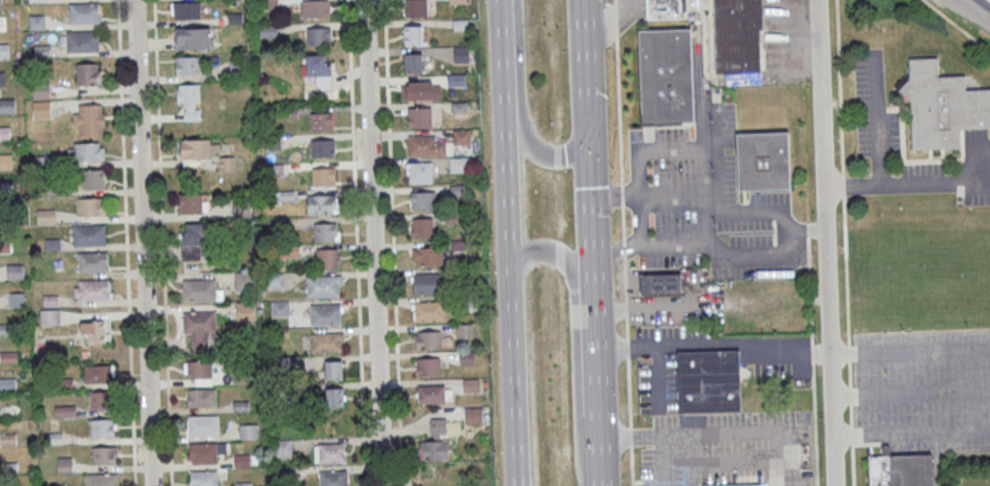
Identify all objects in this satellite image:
road: (989, 0)
building: (0, 1)
building: (36, 1)
building: (458, 1)
building: (269, 4)
building: (315, 8)
building: (415, 8)
building: (662, 8)
building: (189, 11)
road: (974, 11)
building: (84, 13)
building: (36, 22)
building: (2, 23)
road: (957, 25)
building: (413, 34)
building: (737, 35)
building: (318, 36)
building: (193, 38)
building: (81, 41)
building: (461, 54)
road: (587, 60)
building: (414, 62)
building: (190, 65)
building: (237, 68)
building: (320, 70)
building: (87, 74)
building: (665, 75)
building: (1, 78)
building: (456, 80)
building: (40, 90)
building: (417, 90)
building: (189, 100)
building: (7, 106)
building: (941, 106)
building: (41, 110)
road: (520, 113)
building: (420, 117)
parking lot: (877, 119)
building: (88, 120)
traffic signals: (589, 120)
building: (321, 121)
road: (503, 130)
building: (461, 137)
building: (426, 145)
building: (322, 147)
building: (198, 148)
building: (85, 151)
building: (763, 160)
building: (458, 164)
building: (420, 172)
building: (323, 176)
building: (93, 179)
building: (284, 196)
building: (423, 200)
building: (192, 203)
building: (322, 204)
building: (89, 206)
building: (242, 208)
building: (45, 216)
building: (424, 227)
building: (326, 231)
building: (88, 234)
building: (193, 242)
road: (824, 242)
road: (845, 242)
road: (125, 243)
road: (142, 243)
road: (162, 243)
road: (356, 243)
road: (373, 243)
road: (391, 243)
road: (623, 243)
building: (427, 255)
building: (327, 259)
building: (92, 262)
building: (14, 271)
building: (427, 283)
building: (660, 283)
building: (323, 286)
building: (92, 289)
building: (198, 290)
road: (592, 303)
building: (280, 309)
building: (245, 311)
building: (428, 311)
building: (325, 314)
building: (49, 317)
building: (198, 328)
building: (464, 331)
building: (93, 332)
building: (427, 340)
building: (326, 342)
road: (575, 342)
road: (711, 344)
road: (909, 351)
road: (811, 355)
building: (428, 367)
building: (199, 370)
building: (332, 370)
building: (98, 373)
road: (512, 373)
building: (708, 381)
building: (472, 386)
parking lot: (924, 389)
road: (909, 392)
building: (433, 394)
building: (201, 398)
building: (334, 398)
building: (100, 400)
building: (65, 411)
building: (472, 416)
building: (203, 426)
building: (102, 427)
building: (248, 431)
road: (910, 432)
road: (655, 435)
building: (435, 441)
road: (786, 446)
building: (282, 448)
building: (205, 452)
building: (330, 453)
building: (103, 455)
road: (935, 459)
building: (64, 464)
building: (900, 469)
road: (786, 471)
building: (203, 478)
building: (333, 478)
building: (100, 479)
building: (56, 485)
building: (744, 485)

